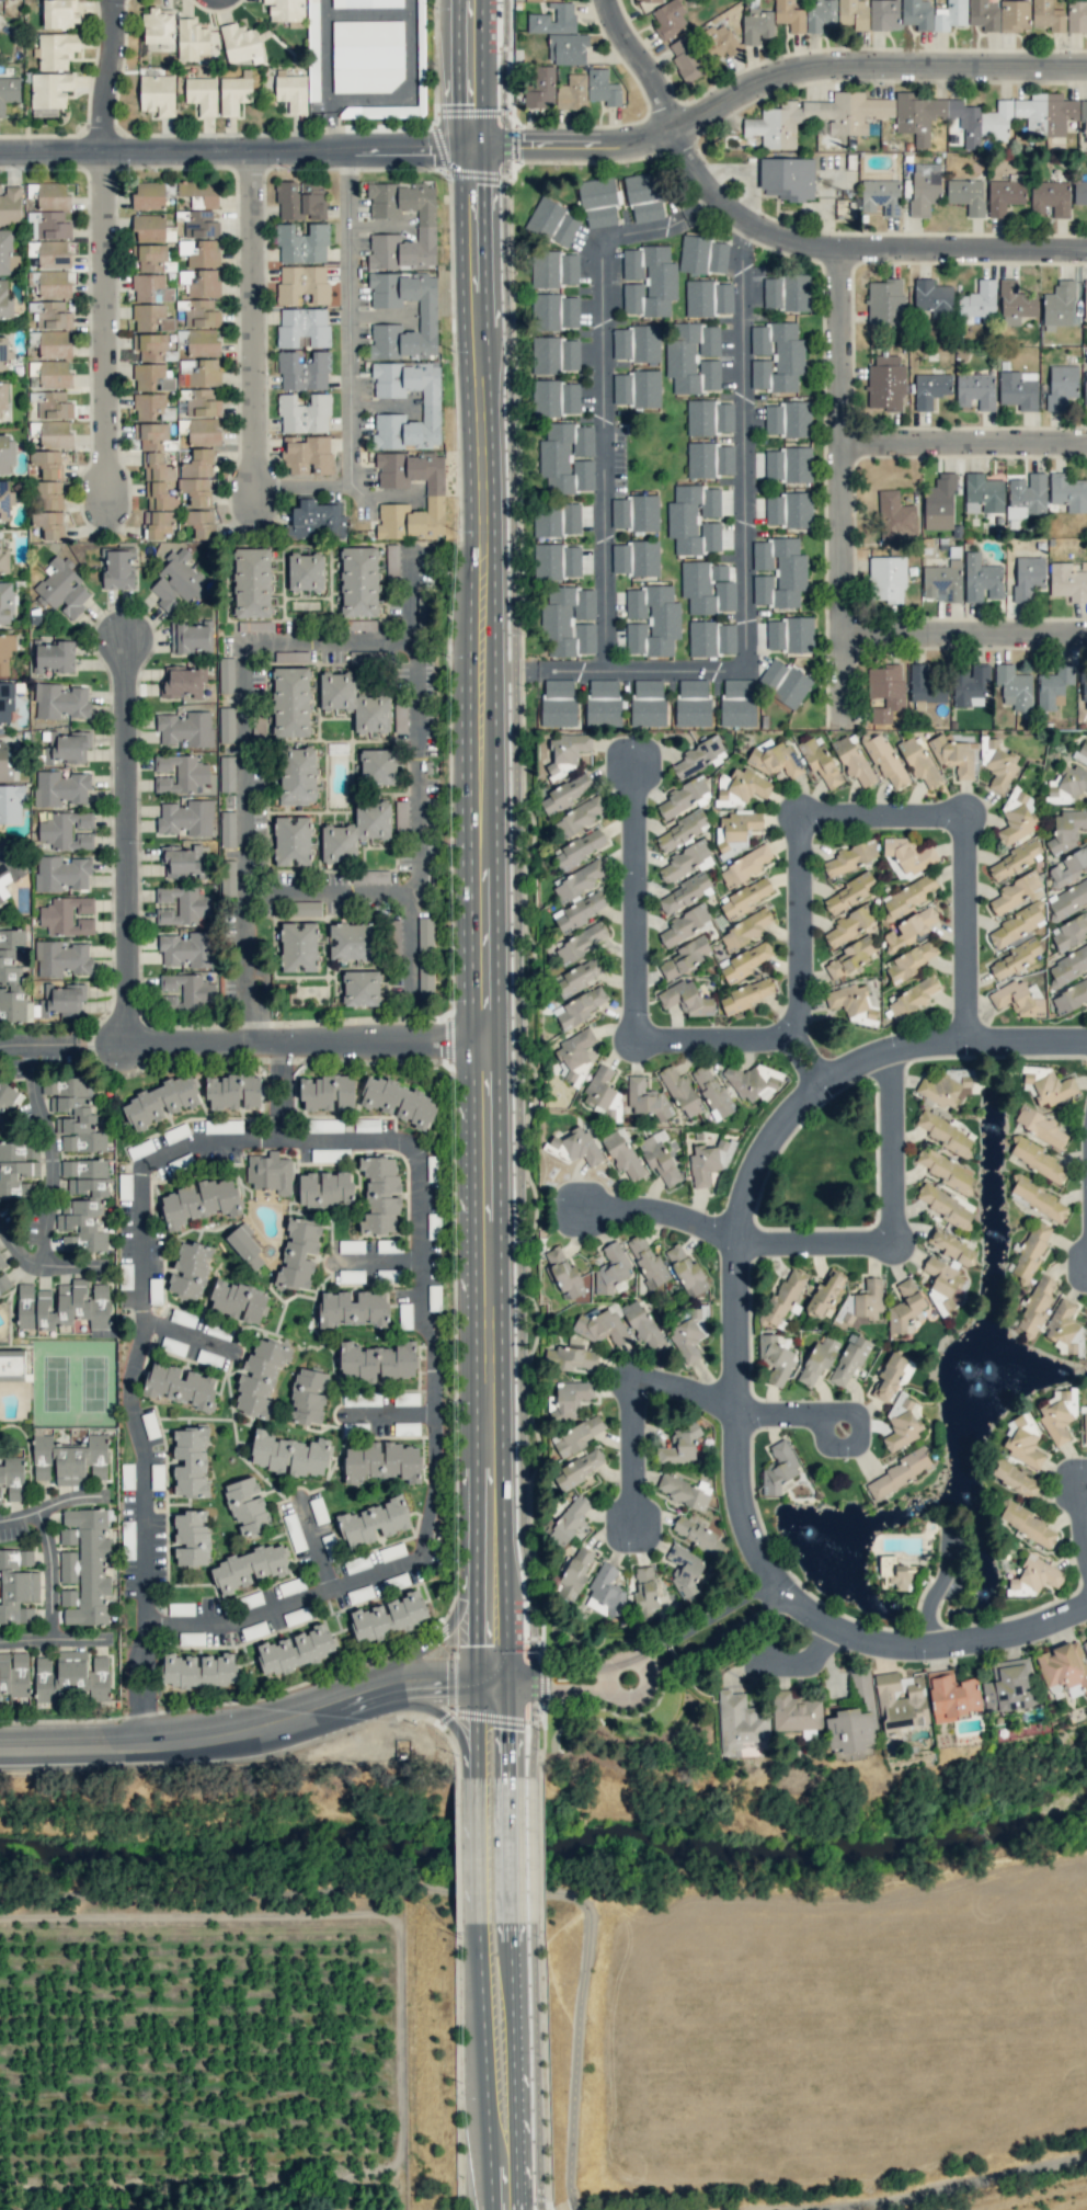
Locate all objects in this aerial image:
building: (2, 0)
building: (540, 0)
building: (647, 0)
building: (366, 3)
building: (286, 10)
building: (60, 13)
building: (854, 13)
building: (917, 13)
building: (820, 14)
building: (884, 14)
building: (984, 14)
building: (789, 15)
building: (950, 15)
building: (1014, 15)
building: (1048, 15)
building: (1076, 15)
building: (670, 19)
building: (553, 20)
building: (757, 25)
building: (158, 26)
building: (191, 38)
building: (719, 39)
building: (421, 41)
building: (241, 44)
building: (567, 48)
road: (325, 49)
building: (56, 50)
building: (312, 50)
building: (367, 56)
building: (685, 59)
road: (483, 76)
road: (108, 77)
road: (777, 82)
building: (603, 88)
building: (540, 89)
road: (410, 90)
building: (9, 91)
building: (291, 91)
building: (234, 92)
building: (572, 92)
building: (49, 93)
building: (157, 94)
building: (203, 94)
building: (1045, 113)
building: (1083, 115)
building: (817, 117)
building: (984, 122)
road: (331, 125)
road: (241, 153)
building: (787, 178)
building: (924, 187)
building: (1079, 192)
building: (199, 193)
building: (1005, 194)
building: (148, 195)
building: (966, 195)
building: (52, 196)
building: (881, 196)
building: (643, 197)
building: (1050, 197)
building: (300, 201)
building: (598, 202)
building: (10, 204)
road: (697, 206)
building: (552, 223)
building: (49, 225)
building: (426, 226)
building: (149, 227)
road: (742, 237)
building: (302, 243)
road: (779, 244)
building: (4, 252)
building: (199, 252)
building: (54, 253)
building: (702, 254)
building: (149, 257)
building: (14, 264)
building: (554, 269)
building: (649, 281)
building: (53, 284)
building: (302, 284)
building: (150, 288)
building: (786, 292)
building: (934, 297)
building: (707, 298)
building: (1085, 299)
building: (979, 300)
building: (5, 301)
building: (885, 301)
building: (1015, 304)
building: (1059, 304)
building: (554, 311)
building: (50, 314)
building: (202, 314)
building: (427, 316)
building: (151, 318)
road: (344, 319)
road: (259, 324)
building: (302, 327)
road: (108, 328)
building: (203, 342)
building: (637, 343)
building: (55, 344)
building: (150, 346)
building: (3, 354)
building: (556, 355)
building: (776, 356)
building: (694, 357)
building: (304, 371)
building: (205, 373)
building: (55, 374)
building: (151, 377)
building: (885, 384)
building: (1061, 386)
building: (1085, 387)
building: (638, 388)
building: (930, 389)
building: (1018, 389)
building: (975, 390)
building: (3, 395)
building: (556, 398)
building: (203, 402)
building: (53, 406)
building: (431, 406)
building: (151, 407)
road: (596, 407)
building: (304, 413)
building: (709, 417)
building: (787, 419)
building: (204, 431)
building: (55, 434)
road: (965, 451)
building: (307, 453)
building: (5, 454)
building: (567, 457)
building: (709, 459)
building: (47, 463)
building: (788, 464)
building: (197, 478)
building: (156, 480)
road: (302, 485)
building: (1068, 492)
building: (983, 493)
road: (844, 494)
building: (435, 495)
building: (1027, 495)
building: (4, 499)
building: (939, 502)
building: (48, 509)
building: (788, 510)
building: (644, 512)
building: (620, 513)
building: (557, 517)
building: (895, 517)
building: (695, 519)
building: (316, 520)
building: (201, 523)
building: (762, 555)
building: (636, 558)
road: (743, 558)
building: (3, 559)
building: (392, 559)
building: (557, 561)
building: (117, 568)
building: (306, 571)
building: (1028, 576)
building: (782, 577)
building: (886, 579)
building: (981, 579)
building: (178, 580)
building: (943, 580)
building: (359, 581)
building: (252, 582)
building: (1067, 582)
building: (61, 588)
building: (707, 588)
road: (409, 597)
building: (5, 602)
building: (651, 620)
building: (569, 622)
building: (362, 625)
building: (254, 626)
building: (789, 635)
road: (966, 636)
building: (191, 638)
building: (711, 638)
road: (298, 641)
building: (5, 654)
building: (54, 657)
road: (516, 672)
road: (541, 672)
building: (226, 675)
building: (183, 681)
building: (785, 683)
building: (925, 685)
building: (971, 685)
building: (1053, 686)
building: (1084, 686)
building: (1014, 687)
building: (885, 691)
building: (7, 700)
building: (60, 702)
building: (290, 702)
building: (355, 702)
building: (648, 703)
building: (737, 703)
building: (558, 704)
building: (603, 704)
building: (693, 704)
building: (400, 713)
building: (227, 725)
building: (186, 729)
building: (67, 747)
building: (567, 752)
building: (1083, 754)
building: (699, 755)
building: (956, 756)
building: (851, 759)
building: (4, 761)
building: (777, 761)
building: (885, 761)
building: (918, 761)
building: (820, 762)
building: (997, 763)
building: (378, 766)
building: (227, 773)
building: (183, 775)
building: (298, 775)
building: (1066, 787)
building: (60, 788)
building: (743, 788)
building: (564, 794)
building: (684, 797)
building: (11, 805)
building: (401, 814)
building: (579, 817)
road: (888, 817)
building: (1017, 817)
building: (186, 818)
building: (1066, 828)
building: (227, 829)
building: (67, 830)
building: (682, 830)
building: (356, 831)
building: (735, 831)
road: (128, 841)
building: (293, 841)
building: (580, 847)
building: (851, 856)
building: (908, 856)
building: (1012, 861)
building: (185, 862)
building: (685, 862)
building: (8, 865)
building: (744, 866)
building: (1067, 867)
building: (60, 873)
building: (370, 876)
building: (228, 878)
building: (579, 880)
road: (327, 889)
building: (1016, 890)
building: (683, 893)
building: (849, 893)
building: (747, 897)
building: (906, 898)
building: (1068, 899)
building: (181, 905)
building: (306, 909)
building: (580, 911)
building: (68, 915)
road: (497, 919)
building: (685, 923)
building: (849, 925)
building: (1017, 925)
building: (909, 929)
building: (745, 930)
building: (1071, 932)
building: (425, 934)
building: (394, 939)
building: (352, 942)
building: (582, 942)
building: (299, 947)
building: (187, 949)
building: (685, 957)
building: (850, 957)
building: (61, 958)
building: (1016, 958)
building: (747, 960)
building: (909, 960)
building: (1067, 966)
building: (577, 977)
building: (12, 979)
building: (425, 980)
road: (637, 984)
building: (361, 988)
building: (184, 992)
building: (746, 995)
building: (912, 998)
building: (1069, 998)
building: (61, 999)
building: (1016, 999)
building: (686, 1000)
building: (851, 1003)
building: (582, 1006)
road: (313, 1040)
road: (1028, 1040)
road: (100, 1043)
road: (25, 1044)
road: (60, 1044)
road: (891, 1051)
building: (575, 1055)
road: (806, 1060)
road: (274, 1064)
building: (752, 1080)
building: (1046, 1084)
building: (946, 1086)
building: (599, 1087)
building: (711, 1091)
building: (233, 1092)
building: (328, 1092)
building: (682, 1092)
building: (647, 1098)
building: (8, 1102)
building: (161, 1102)
building: (399, 1102)
building: (75, 1113)
building: (325, 1125)
building: (367, 1125)
building: (222, 1126)
building: (1041, 1126)
building: (945, 1132)
building: (175, 1134)
building: (573, 1147)
building: (325, 1154)
building: (621, 1154)
building: (659, 1159)
road: (762, 1159)
building: (1038, 1160)
building: (709, 1162)
building: (946, 1169)
building: (16, 1171)
building: (271, 1173)
road: (48, 1181)
building: (325, 1189)
building: (380, 1195)
building: (1039, 1199)
building: (201, 1201)
building: (945, 1204)
building: (83, 1205)
road: (662, 1219)
road: (895, 1228)
building: (245, 1245)
building: (387, 1245)
building: (351, 1246)
building: (1031, 1251)
building: (298, 1253)
road: (374, 1260)
building: (647, 1260)
building: (1, 1263)
building: (611, 1268)
building: (947, 1269)
building: (191, 1271)
building: (687, 1272)
building: (563, 1274)
building: (351, 1275)
building: (125, 1276)
building: (4, 1284)
building: (825, 1296)
building: (785, 1297)
building: (239, 1301)
building: (862, 1302)
building: (65, 1306)
building: (1037, 1306)
building: (904, 1308)
building: (353, 1309)
building: (183, 1318)
building: (642, 1324)
building: (1062, 1326)
building: (602, 1328)
building: (218, 1331)
road: (736, 1334)
road: (185, 1335)
building: (689, 1335)
building: (173, 1345)
building: (775, 1357)
building: (209, 1358)
building: (819, 1359)
building: (848, 1360)
building: (377, 1362)
building: (14, 1365)
building: (891, 1377)
building: (261, 1378)
building: (180, 1386)
building: (308, 1397)
building: (362, 1399)
building: (405, 1399)
building: (568, 1399)
road: (633, 1403)
road: (384, 1411)
building: (1059, 1414)
road: (792, 1420)
building: (1085, 1423)
building: (901, 1424)
building: (405, 1427)
building: (579, 1434)
building: (1023, 1440)
building: (679, 1444)
building: (290, 1455)
building: (69, 1460)
building: (381, 1461)
building: (191, 1462)
building: (580, 1468)
building: (778, 1468)
building: (897, 1473)
building: (12, 1478)
building: (1016, 1479)
building: (685, 1492)
road: (49, 1504)
building: (248, 1506)
building: (318, 1510)
road: (744, 1512)
building: (374, 1523)
building: (570, 1523)
building: (1028, 1524)
building: (294, 1531)
building: (128, 1534)
building: (697, 1535)
building: (192, 1537)
road: (316, 1543)
building: (392, 1551)
building: (357, 1563)
building: (84, 1565)
building: (251, 1568)
building: (685, 1570)
building: (895, 1572)
building: (575, 1573)
road: (47, 1575)
building: (1034, 1579)
building: (18, 1586)
building: (291, 1586)
building: (606, 1591)
building: (645, 1592)
building: (181, 1608)
building: (296, 1616)
building: (389, 1617)
road: (240, 1620)
building: (255, 1630)
road: (145, 1639)
road: (48, 1642)
building: (1085, 1643)
road: (932, 1648)
building: (295, 1650)
building: (1064, 1667)
building: (199, 1671)
road: (653, 1671)
building: (13, 1673)
building: (72, 1676)
building: (861, 1685)
building: (1008, 1685)
building: (952, 1697)
road: (145, 1698)
building: (901, 1701)
building: (796, 1711)
building: (736, 1722)
road: (253, 1727)
building: (849, 1730)
road: (252, 1888)
road: (505, 1947)
road: (968, 2184)

